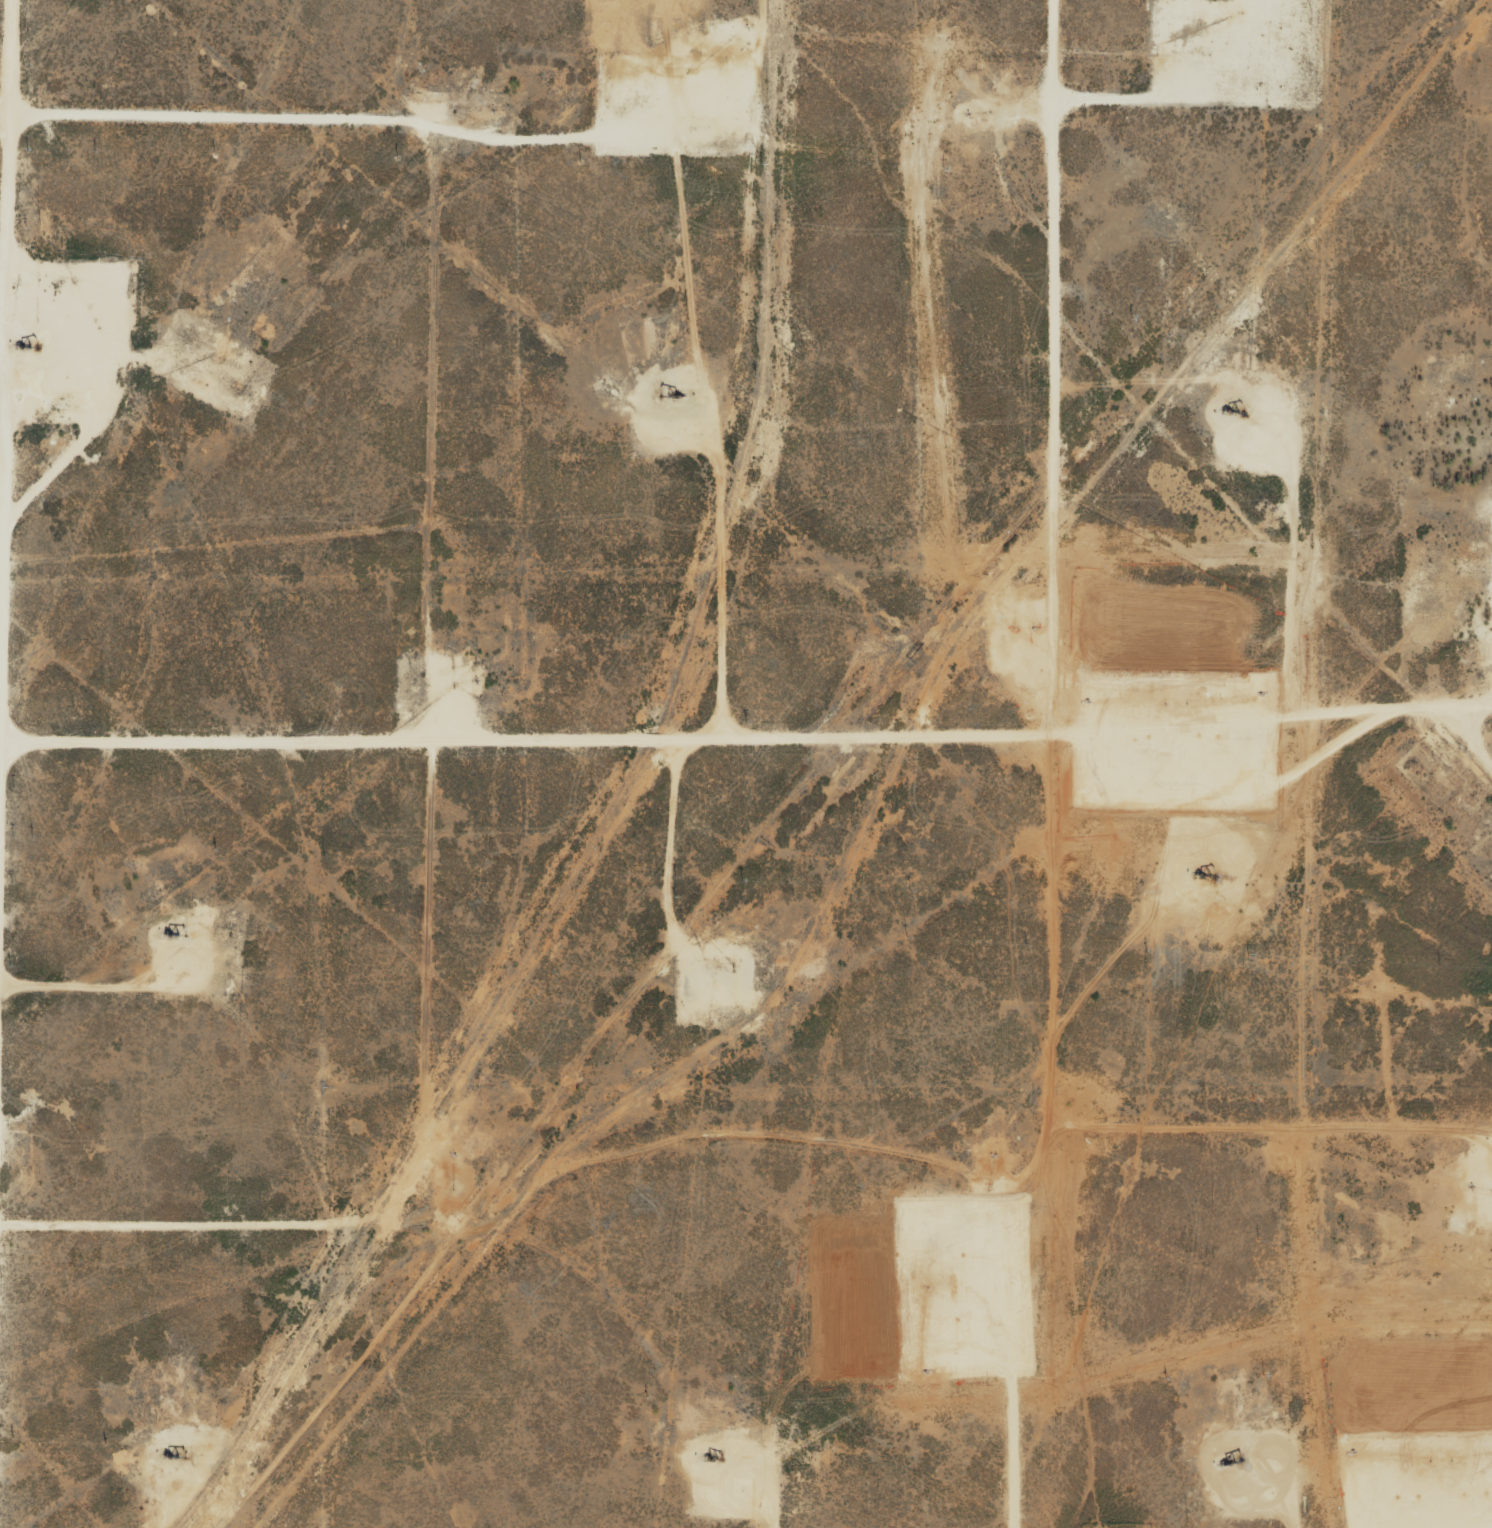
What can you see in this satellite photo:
river: (1104, 378)
road: (16, 585)
road: (444, 665)
road: (746, 730)
road: (1057, 766)
road: (1277, 1127)

